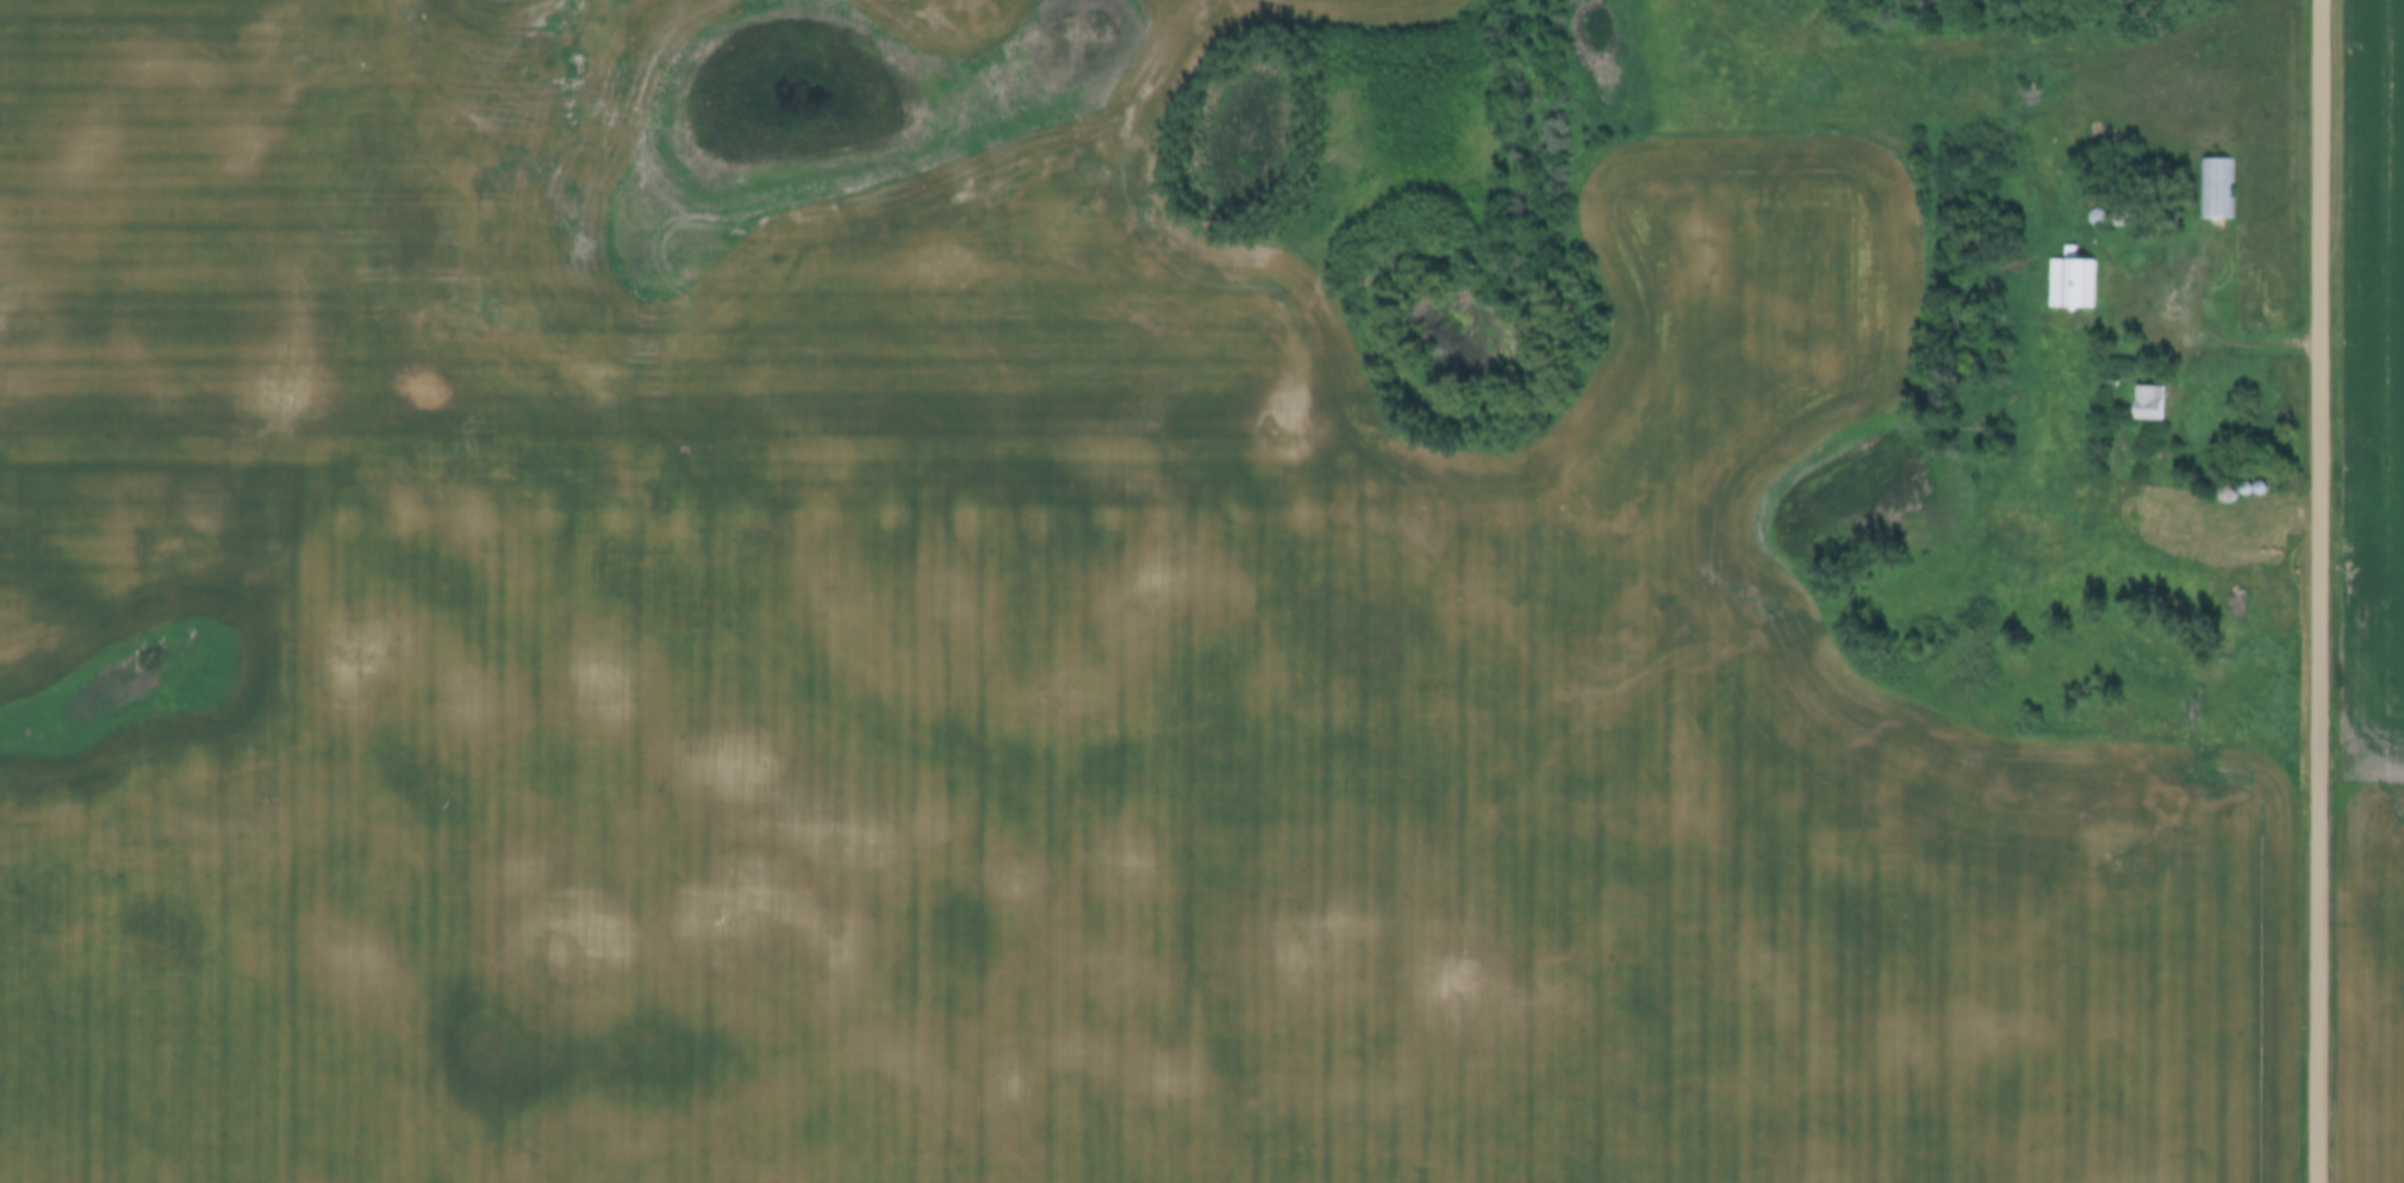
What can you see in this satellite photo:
building: (2217, 188)
building: (2070, 285)
road: (2210, 334)
building: (2148, 404)
road: (2318, 591)

